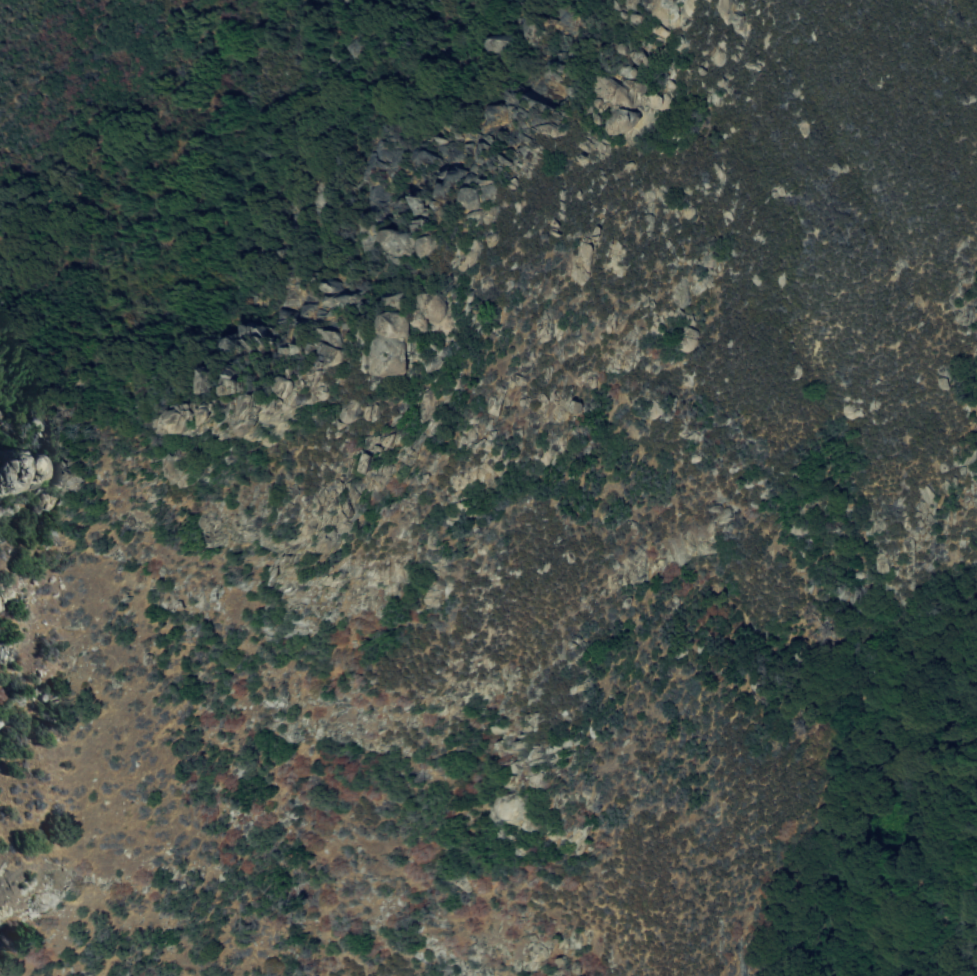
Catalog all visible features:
building: (20, 472)

